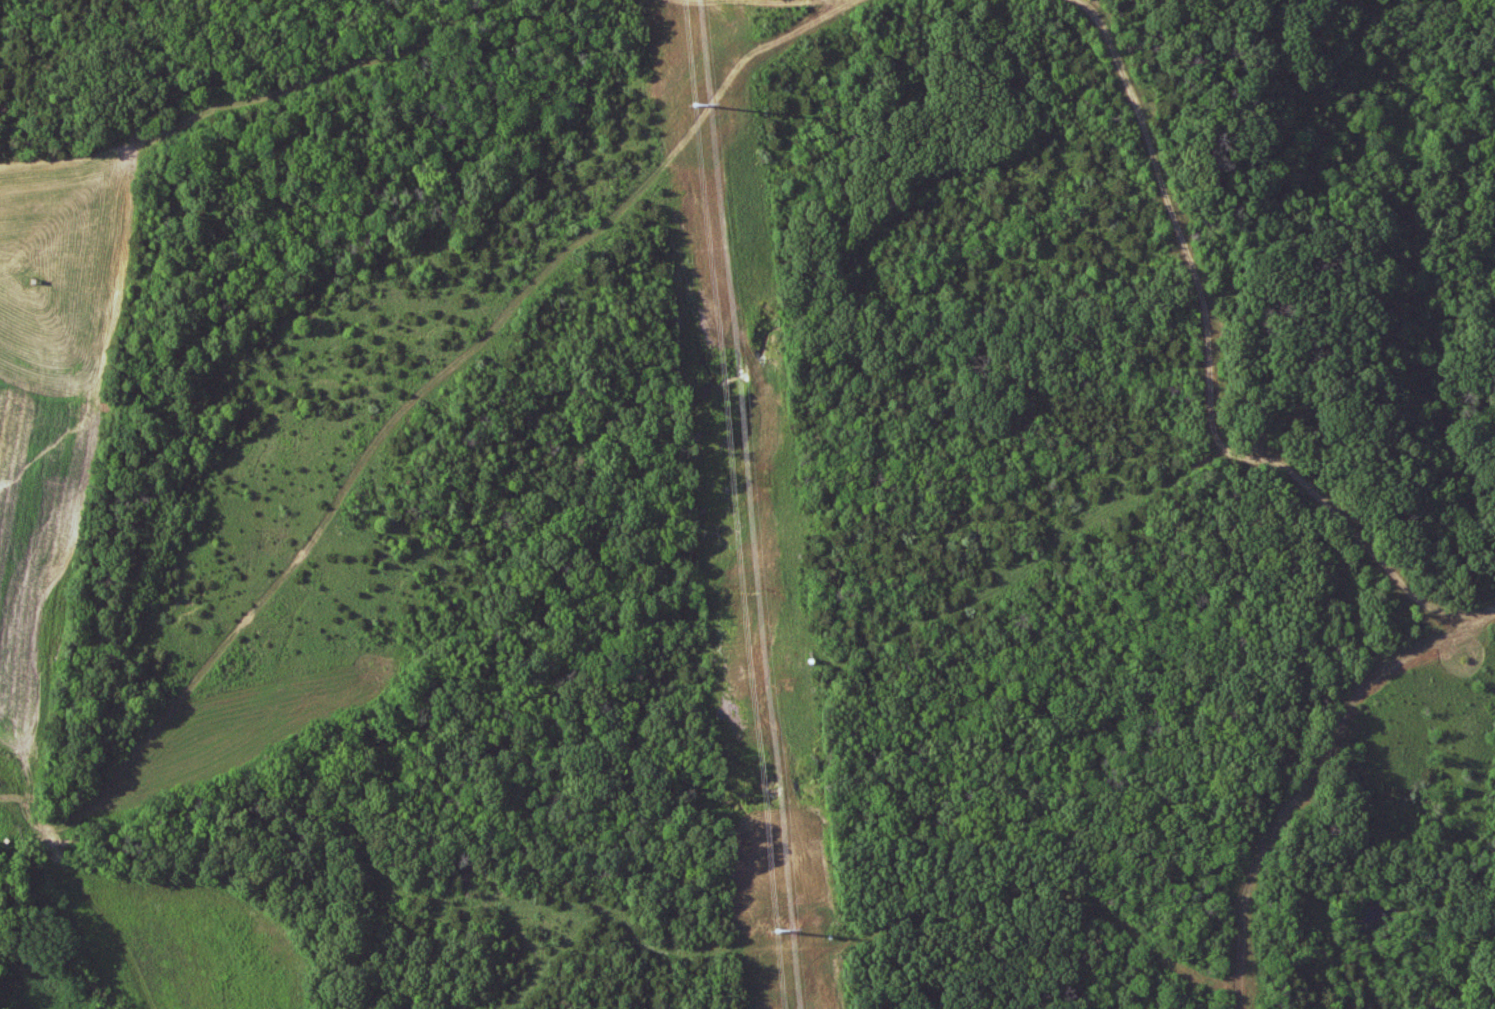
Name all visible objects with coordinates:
power tower: (697, 105)
power tower: (777, 931)

